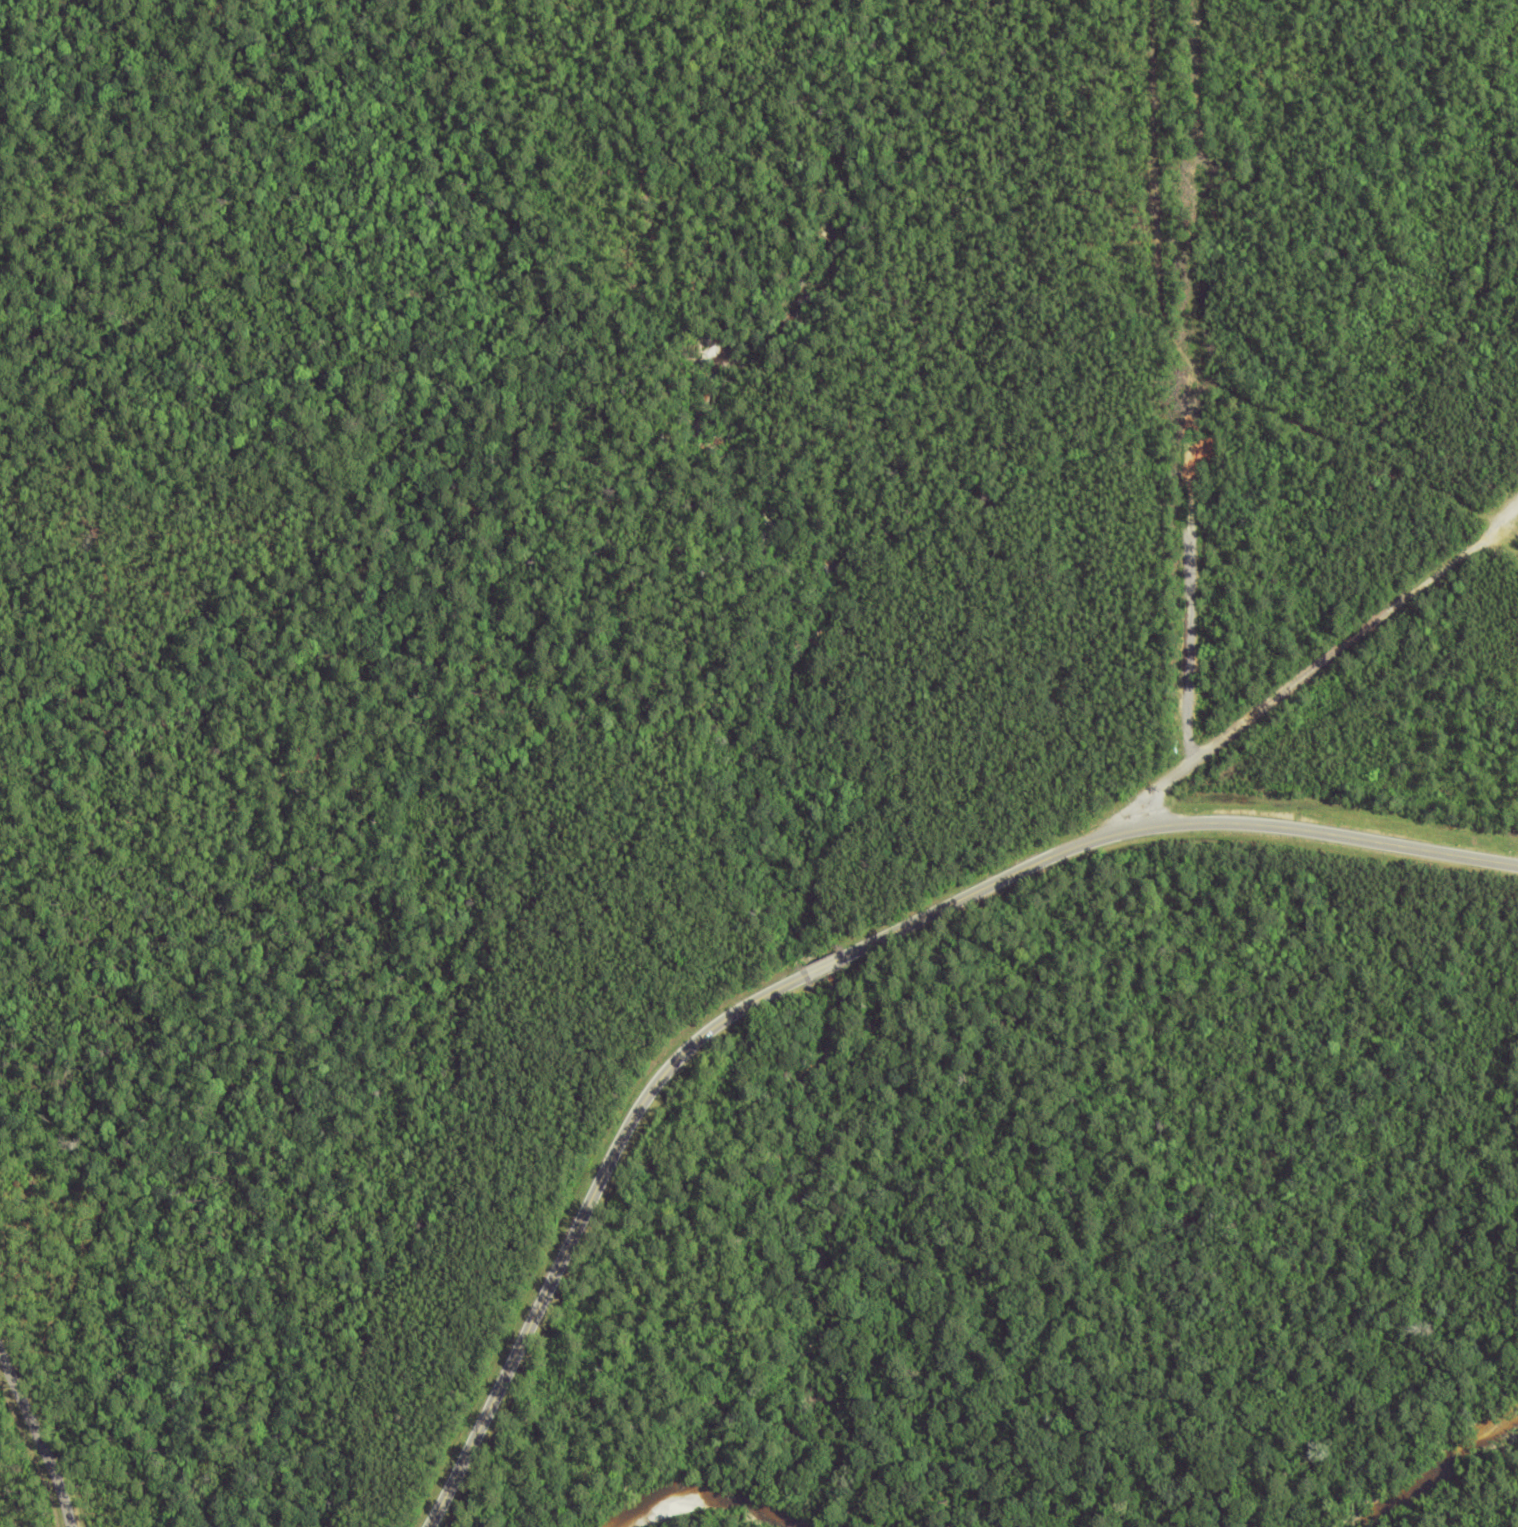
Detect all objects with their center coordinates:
road: (1160, 245)
building: (1402, 616)
building: (1387, 630)
road: (1353, 633)
road: (1191, 670)
road: (834, 962)
road: (40, 1438)
river: (1439, 1472)
river: (703, 1492)

